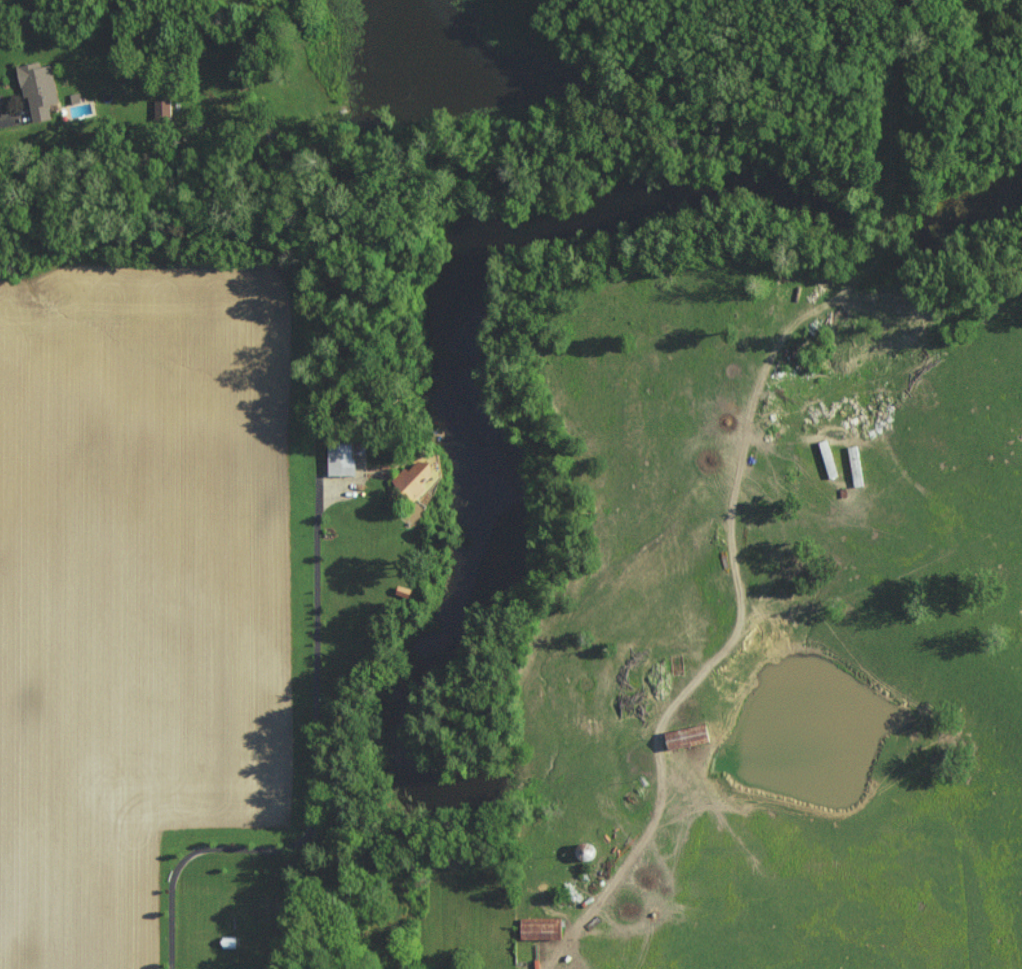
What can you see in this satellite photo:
building: (39, 89)
road: (129, 177)
building: (343, 458)
building: (829, 459)
building: (419, 478)
road: (688, 693)
road: (313, 724)
building: (690, 736)
road: (177, 866)
building: (542, 927)
road: (166, 928)

